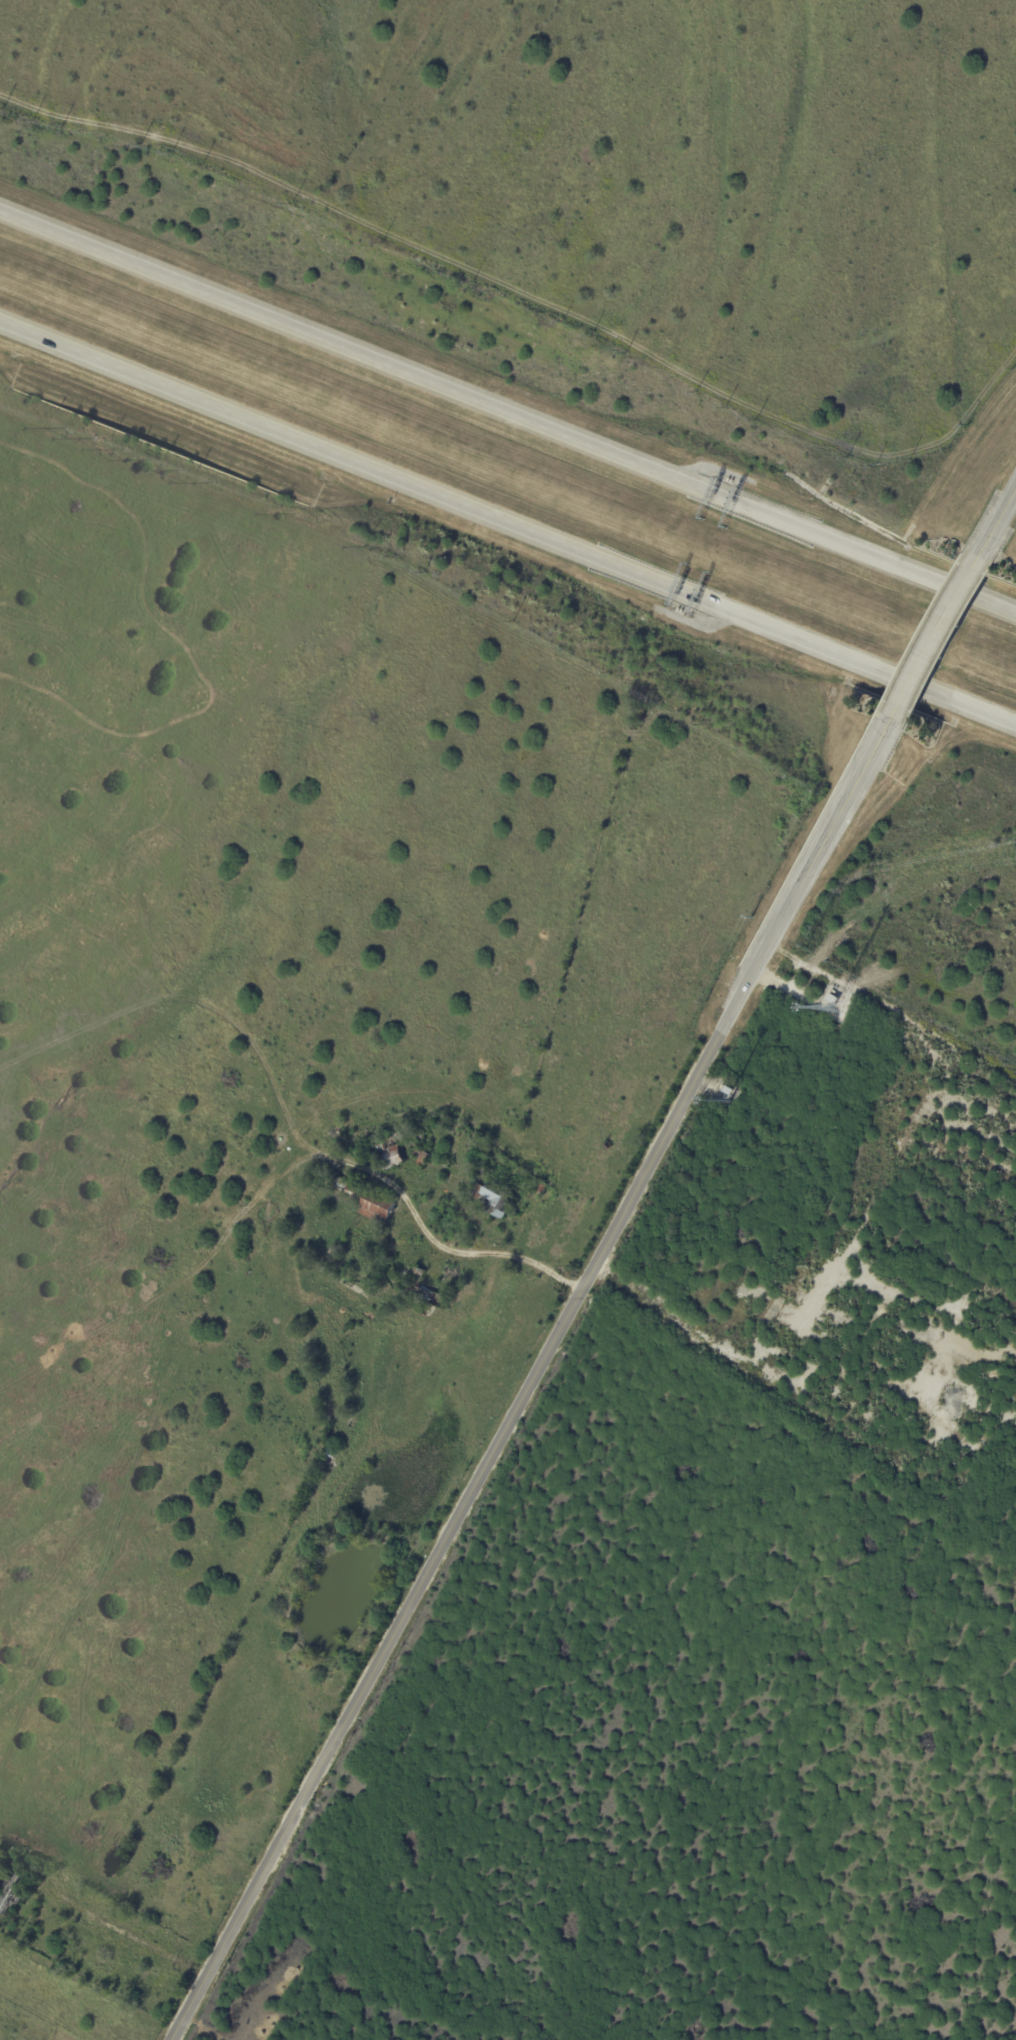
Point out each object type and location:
road: (507, 414)
road: (996, 520)
road: (507, 525)
road: (931, 641)
building: (643, 707)
building: (835, 998)
road: (891, 1014)
building: (728, 1089)
building: (897, 1089)
building: (392, 1149)
building: (422, 1157)
building: (484, 1171)
building: (542, 1187)
building: (365, 1198)
building: (494, 1198)
road: (443, 1243)
building: (418, 1273)
building: (435, 1295)
road: (528, 1383)
building: (333, 1453)
building: (416, 1713)
building: (14, 1889)

